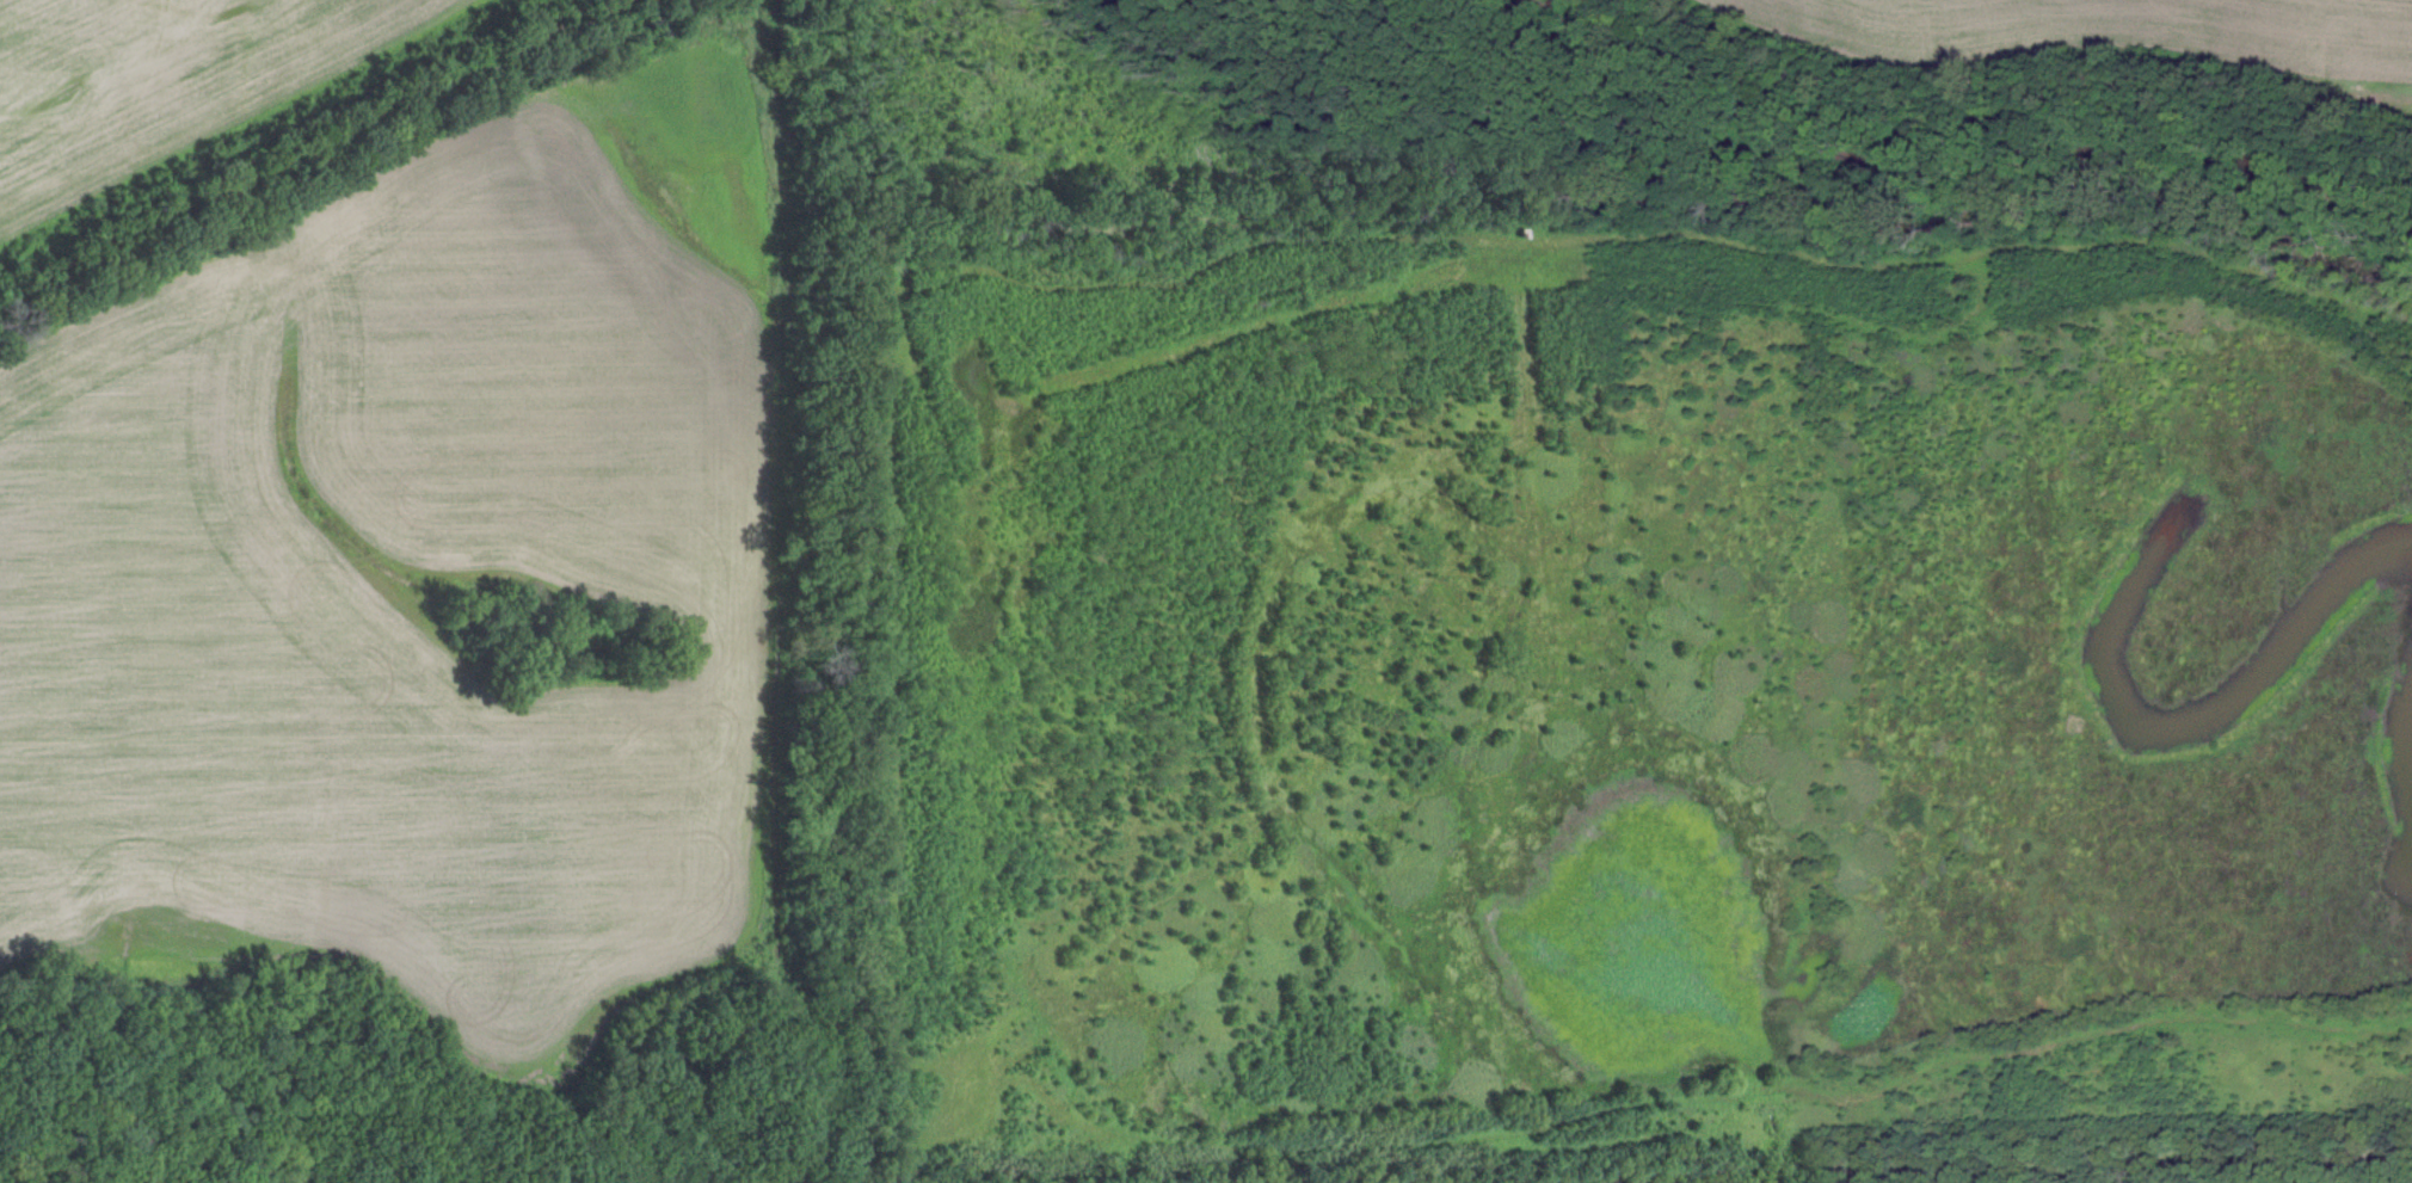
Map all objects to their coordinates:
crop: (2105, 36)
crop: (158, 80)

